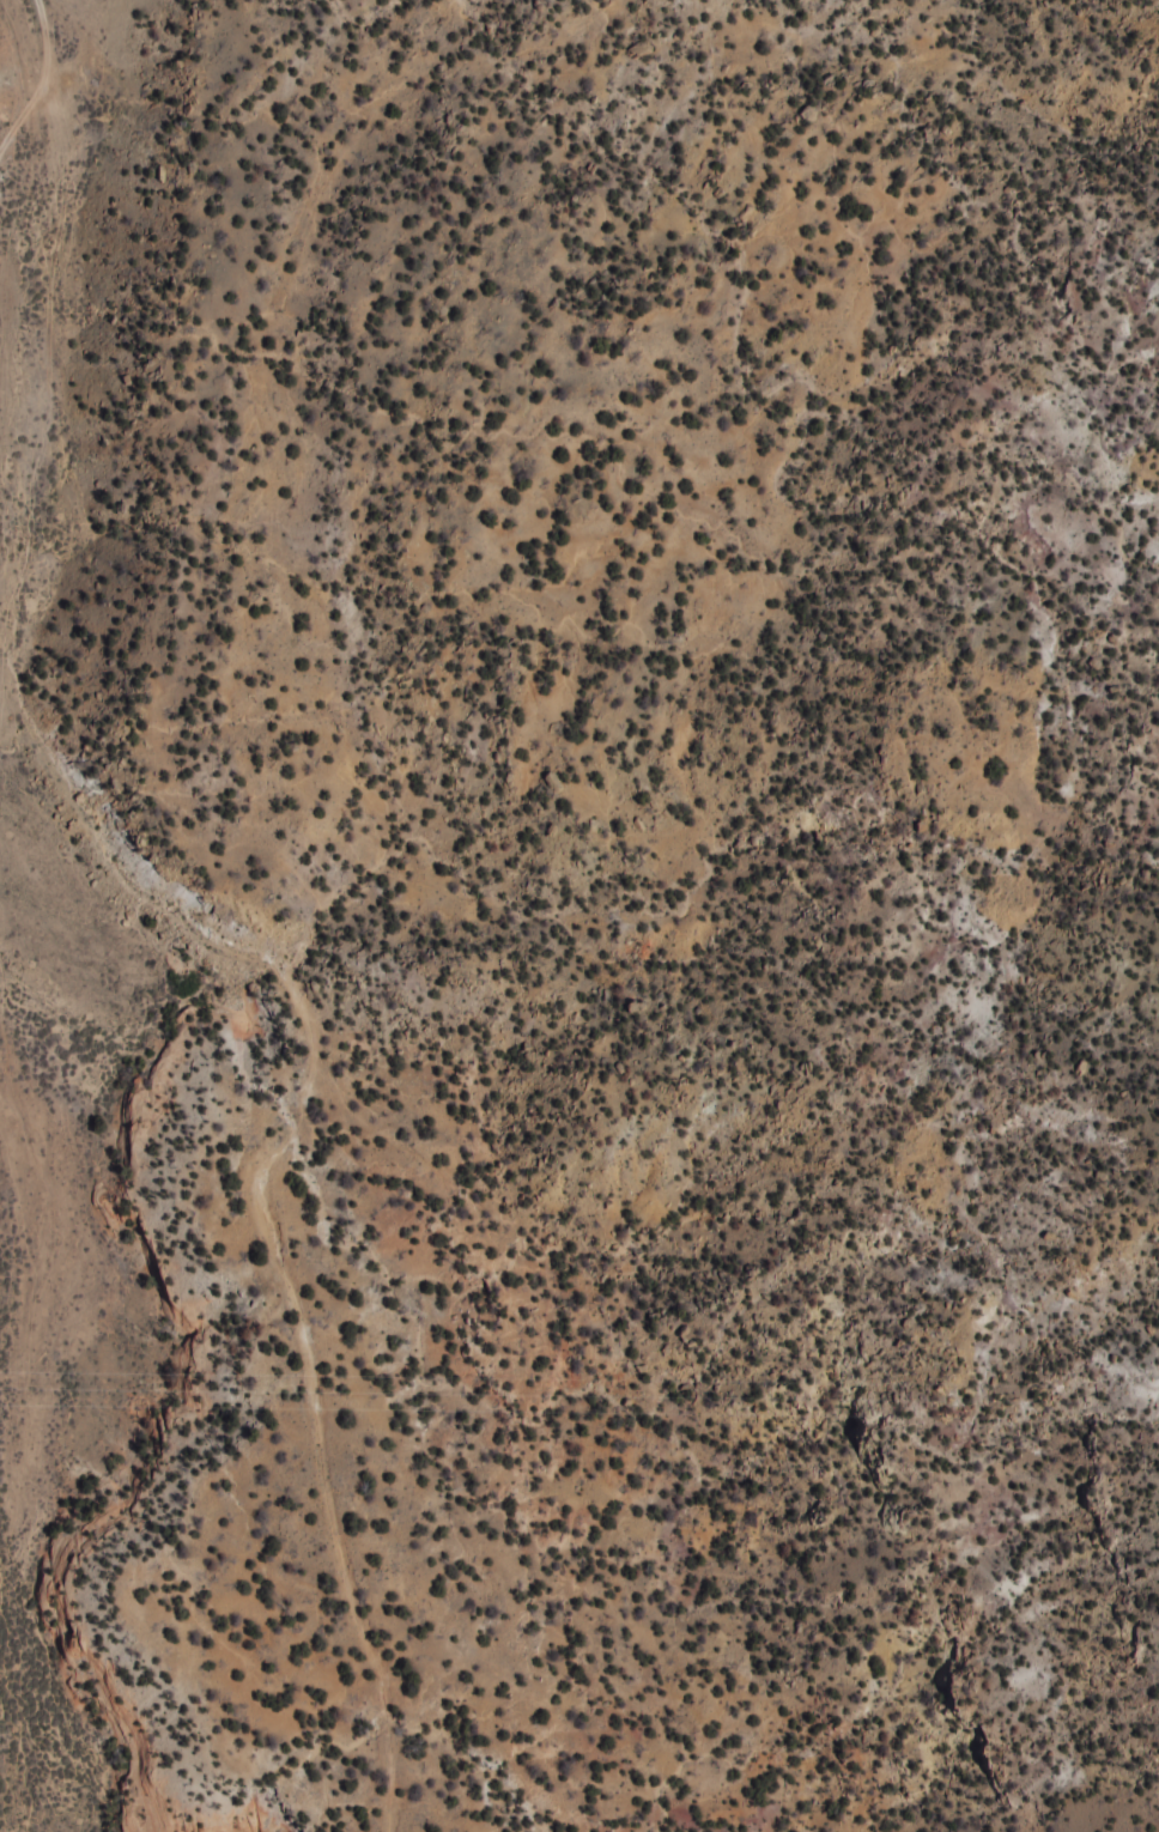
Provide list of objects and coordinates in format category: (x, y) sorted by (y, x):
road: (43, 83)

